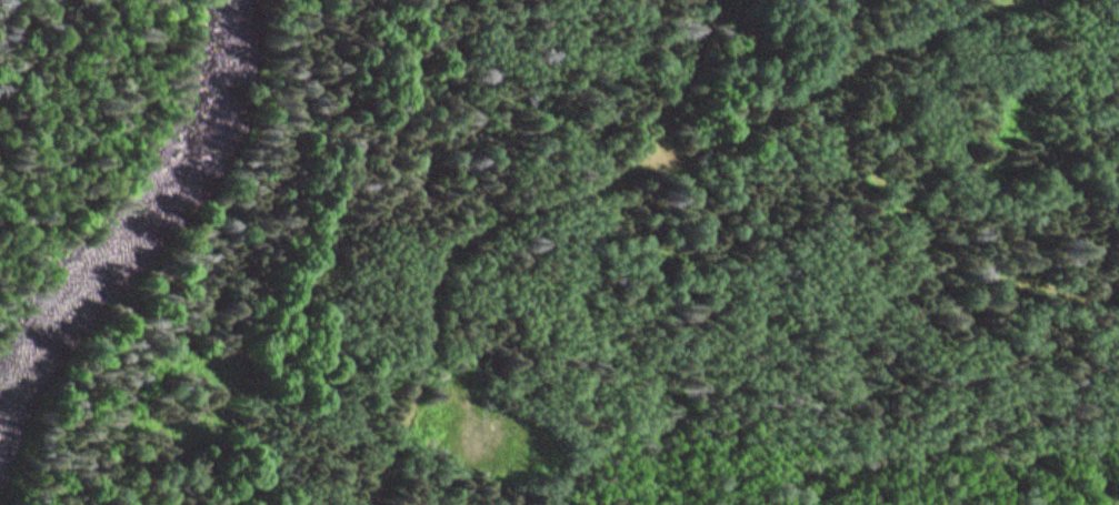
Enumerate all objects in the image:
river: (148, 214)

